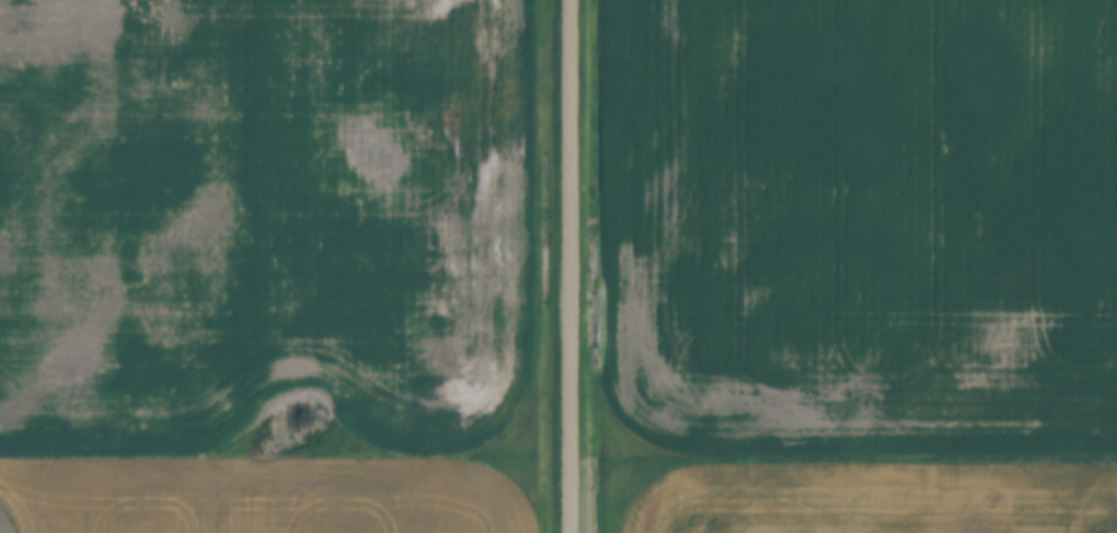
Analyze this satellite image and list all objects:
road: (575, 266)

